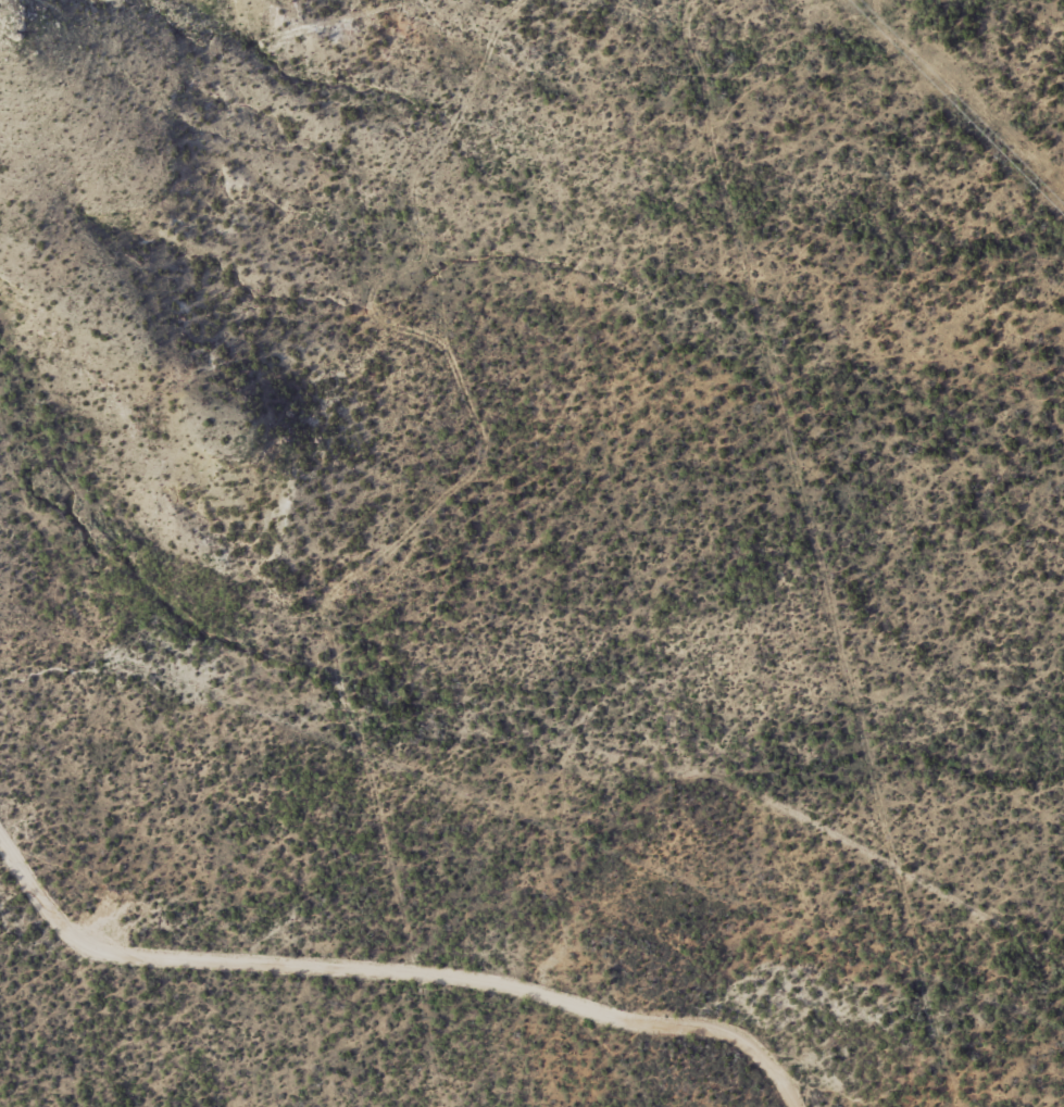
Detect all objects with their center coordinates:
road: (385, 1007)

